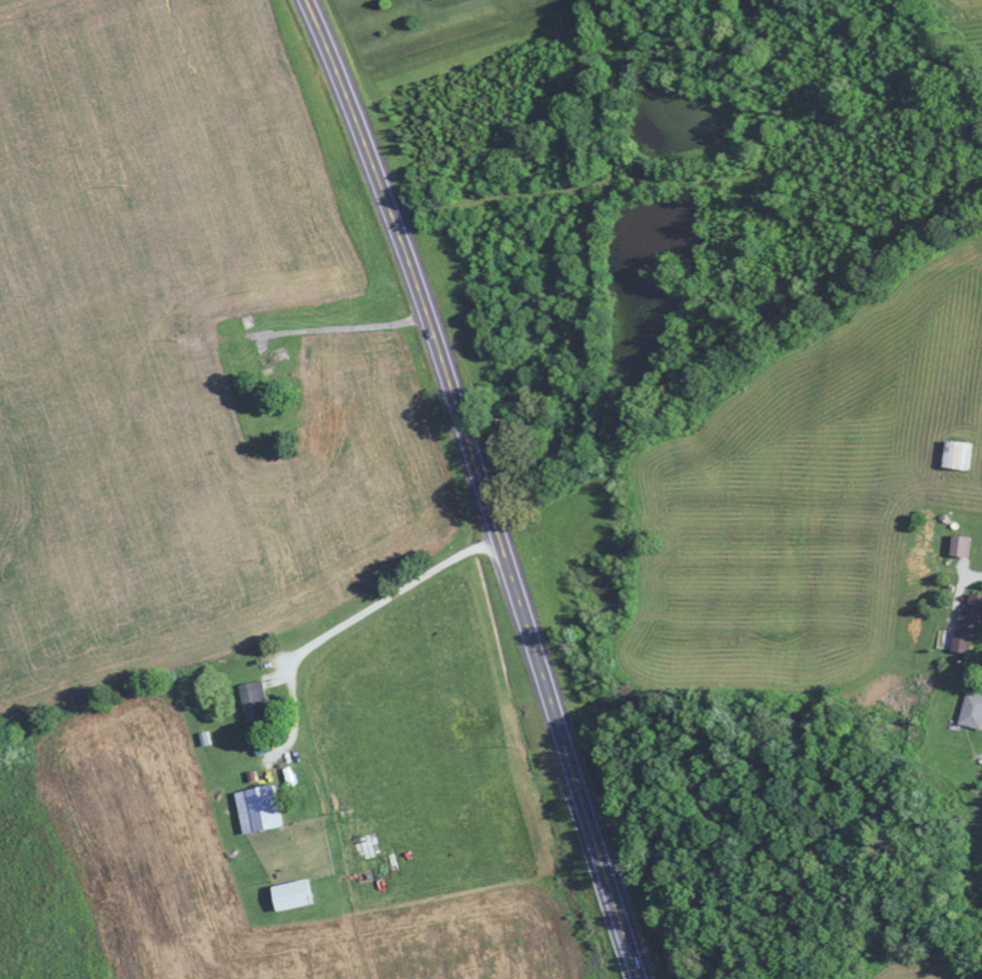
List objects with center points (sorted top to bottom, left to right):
road: (345, 328)
road: (432, 331)
building: (958, 455)
building: (960, 546)
building: (968, 626)
road: (338, 628)
road: (280, 681)
building: (261, 701)
building: (974, 710)
building: (267, 808)
road: (591, 824)
building: (305, 893)

